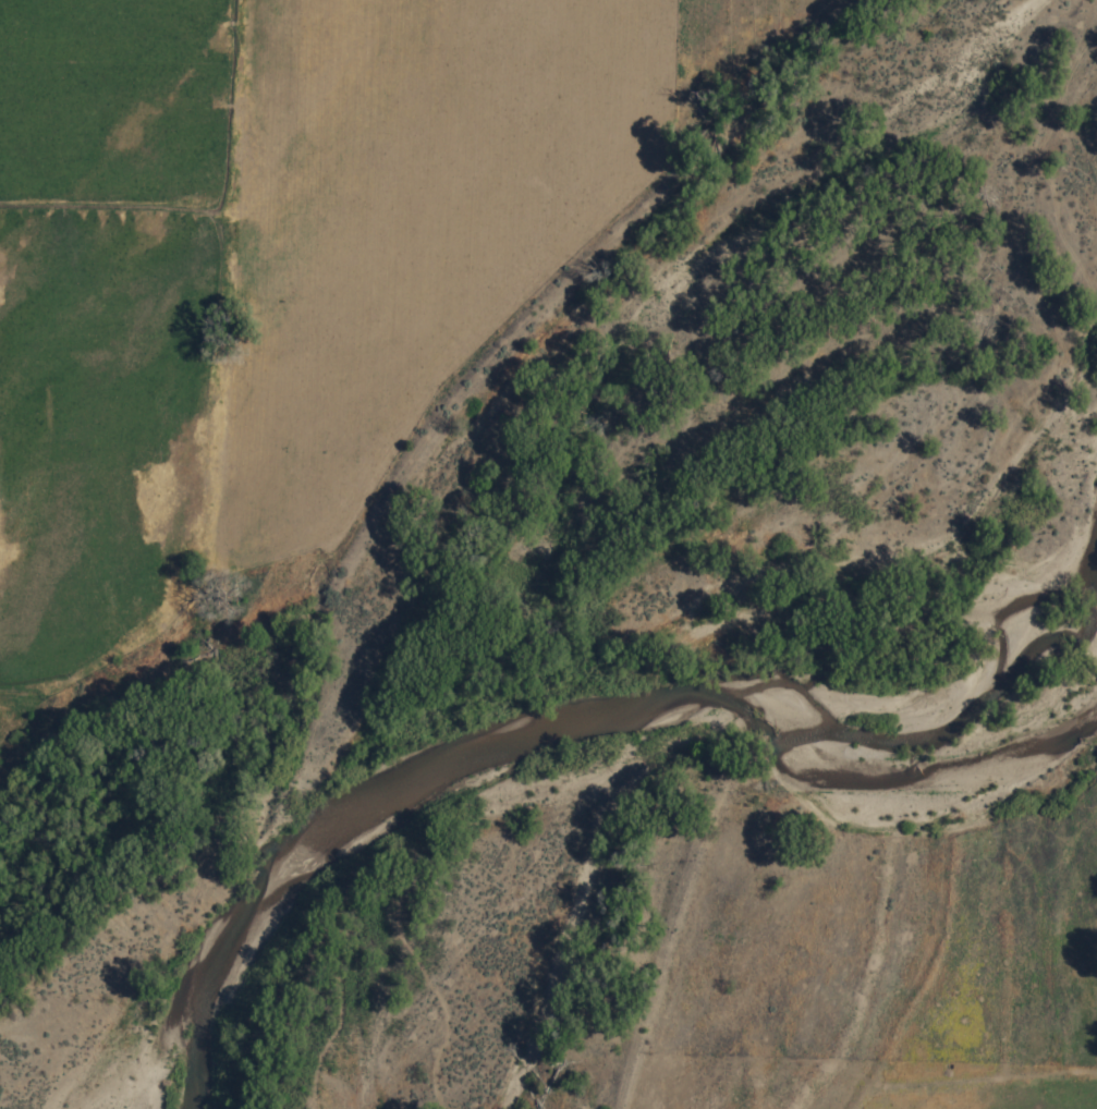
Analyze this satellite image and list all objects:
river: (782, 685)

